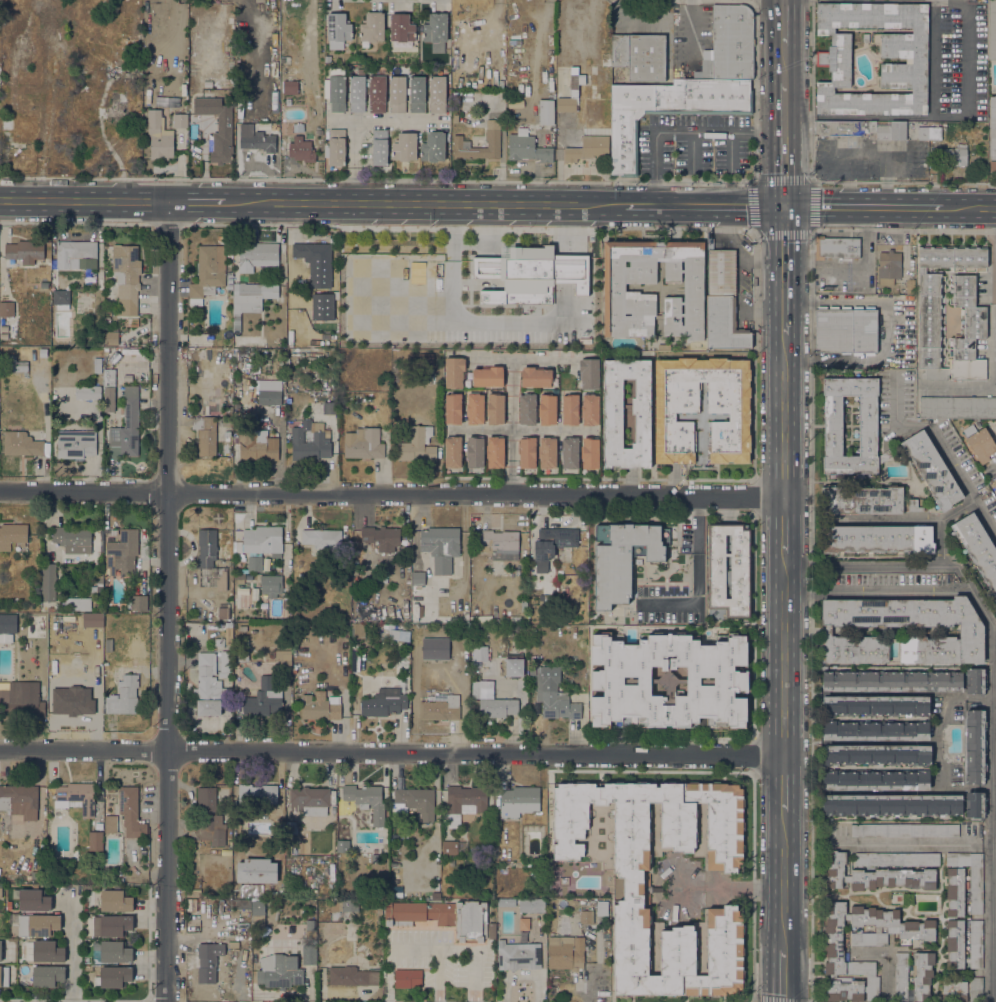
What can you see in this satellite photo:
road: (784, 23)
building: (372, 27)
building: (401, 28)
building: (435, 28)
building: (992, 29)
building: (337, 30)
road: (692, 39)
building: (732, 42)
road: (702, 43)
building: (640, 56)
building: (327, 59)
building: (833, 60)
building: (306, 65)
road: (783, 65)
building: (704, 70)
building: (290, 84)
building: (337, 93)
building: (397, 94)
building: (417, 94)
building: (437, 94)
building: (457, 101)
building: (377, 102)
building: (565, 104)
building: (113, 108)
building: (668, 110)
building: (546, 112)
road: (929, 117)
building: (180, 121)
road: (385, 122)
building: (81, 127)
building: (217, 128)
building: (298, 128)
building: (861, 128)
road: (682, 132)
building: (929, 133)
building: (992, 133)
building: (159, 136)
building: (492, 138)
building: (259, 141)
road: (353, 145)
road: (784, 145)
building: (337, 147)
building: (379, 147)
building: (404, 147)
building: (433, 147)
building: (527, 147)
building: (587, 148)
building: (20, 149)
building: (300, 149)
building: (952, 156)
road: (353, 176)
road: (534, 181)
road: (752, 182)
road: (809, 182)
road: (812, 182)
road: (353, 194)
road: (84, 202)
road: (196, 204)
road: (425, 205)
road: (705, 207)
road: (864, 208)
road: (970, 210)
road: (74, 224)
road: (167, 225)
road: (748, 229)
road: (756, 233)
building: (220, 238)
building: (836, 247)
building: (23, 252)
building: (76, 254)
building: (313, 254)
building: (259, 255)
building: (889, 267)
road: (784, 271)
building: (2, 273)
building: (207, 273)
building: (229, 274)
building: (531, 276)
building: (126, 278)
building: (229, 280)
building: (291, 280)
building: (44, 284)
building: (229, 287)
building: (614, 287)
building: (910, 287)
building: (61, 299)
building: (250, 299)
building: (723, 303)
building: (7, 309)
building: (929, 322)
building: (4, 328)
road: (886, 328)
building: (846, 331)
building: (3, 336)
building: (110, 338)
building: (113, 356)
road: (521, 358)
building: (426, 360)
building: (13, 365)
building: (97, 365)
building: (279, 365)
building: (454, 372)
building: (589, 373)
building: (488, 376)
building: (109, 377)
building: (536, 377)
road: (960, 384)
building: (384, 387)
building: (269, 392)
building: (88, 393)
building: (386, 394)
building: (957, 407)
building: (329, 408)
building: (453, 409)
building: (475, 409)
building: (495, 409)
building: (528, 409)
building: (547, 409)
building: (570, 409)
building: (590, 409)
building: (677, 411)
building: (64, 412)
building: (627, 413)
road: (783, 416)
building: (833, 422)
building: (127, 425)
road: (512, 426)
road: (522, 431)
building: (205, 435)
building: (227, 436)
building: (310, 441)
road: (941, 443)
building: (979, 443)
building: (21, 444)
building: (76, 444)
building: (363, 444)
building: (256, 446)
building: (417, 446)
building: (453, 452)
building: (475, 452)
building: (495, 452)
building: (528, 452)
building: (547, 452)
building: (570, 453)
building: (590, 453)
road: (505, 463)
road: (994, 466)
building: (931, 470)
road: (505, 472)
building: (995, 481)
road: (391, 493)
building: (867, 500)
railway: (790, 501)
road: (887, 521)
road: (941, 522)
road: (782, 524)
building: (12, 535)
building: (322, 538)
building: (383, 538)
building: (72, 539)
building: (876, 539)
building: (260, 540)
building: (499, 544)
building: (552, 545)
building: (440, 547)
building: (977, 550)
building: (206, 551)
building: (122, 552)
building: (623, 558)
building: (255, 563)
building: (387, 571)
building: (728, 571)
road: (697, 574)
building: (242, 576)
building: (47, 582)
building: (417, 582)
building: (271, 584)
road: (899, 586)
building: (315, 588)
building: (94, 590)
building: (546, 600)
building: (137, 602)
road: (170, 602)
building: (77, 603)
building: (50, 609)
building: (524, 611)
building: (223, 613)
building: (480, 619)
building: (90, 620)
building: (433, 628)
building: (305, 629)
building: (318, 629)
building: (357, 631)
building: (971, 631)
building: (403, 635)
building: (6, 638)
building: (228, 638)
building: (218, 642)
building: (108, 645)
building: (242, 650)
building: (478, 653)
road: (783, 653)
building: (225, 661)
building: (283, 662)
building: (513, 667)
building: (598, 667)
building: (738, 668)
building: (293, 670)
building: (532, 670)
building: (975, 680)
building: (607, 681)
building: (630, 681)
building: (706, 681)
building: (892, 681)
building: (668, 683)
building: (209, 687)
building: (486, 690)
road: (989, 693)
building: (598, 694)
building: (738, 695)
building: (123, 696)
building: (263, 699)
building: (384, 702)
building: (21, 703)
building: (73, 703)
building: (558, 705)
building: (320, 706)
building: (875, 706)
building: (497, 707)
building: (438, 711)
road: (944, 719)
building: (875, 730)
building: (975, 747)
road: (391, 753)
building: (877, 755)
building: (876, 780)
road: (783, 784)
building: (255, 797)
building: (75, 798)
building: (19, 800)
building: (309, 800)
building: (366, 800)
building: (518, 801)
building: (415, 802)
building: (464, 803)
building: (975, 804)
building: (892, 805)
building: (131, 813)
building: (209, 817)
building: (110, 823)
building: (191, 828)
building: (291, 828)
building: (904, 830)
building: (94, 841)
road: (877, 843)
building: (342, 846)
building: (449, 848)
building: (897, 859)
building: (256, 871)
building: (33, 875)
building: (874, 876)
building: (970, 876)
road: (782, 880)
road: (729, 888)
building: (633, 889)
building: (0, 892)
building: (954, 892)
building: (193, 893)
building: (31, 900)
building: (115, 901)
building: (240, 904)
building: (191, 905)
building: (345, 905)
building: (531, 905)
building: (602, 908)
building: (257, 913)
building: (441, 916)
building: (586, 917)
building: (38, 925)
building: (111, 925)
building: (334, 926)
building: (310, 932)
building: (232, 944)
building: (955, 944)
building: (975, 944)
building: (0, 950)
road: (75, 950)
building: (44, 951)
building: (113, 951)
building: (566, 952)
building: (834, 953)
building: (309, 954)
building: (518, 956)
building: (208, 961)
building: (88, 967)
building: (278, 971)
building: (924, 973)
building: (47, 975)
road: (783, 975)
building: (3, 976)
building: (349, 976)
building: (112, 977)
building: (407, 978)
building: (962, 990)

